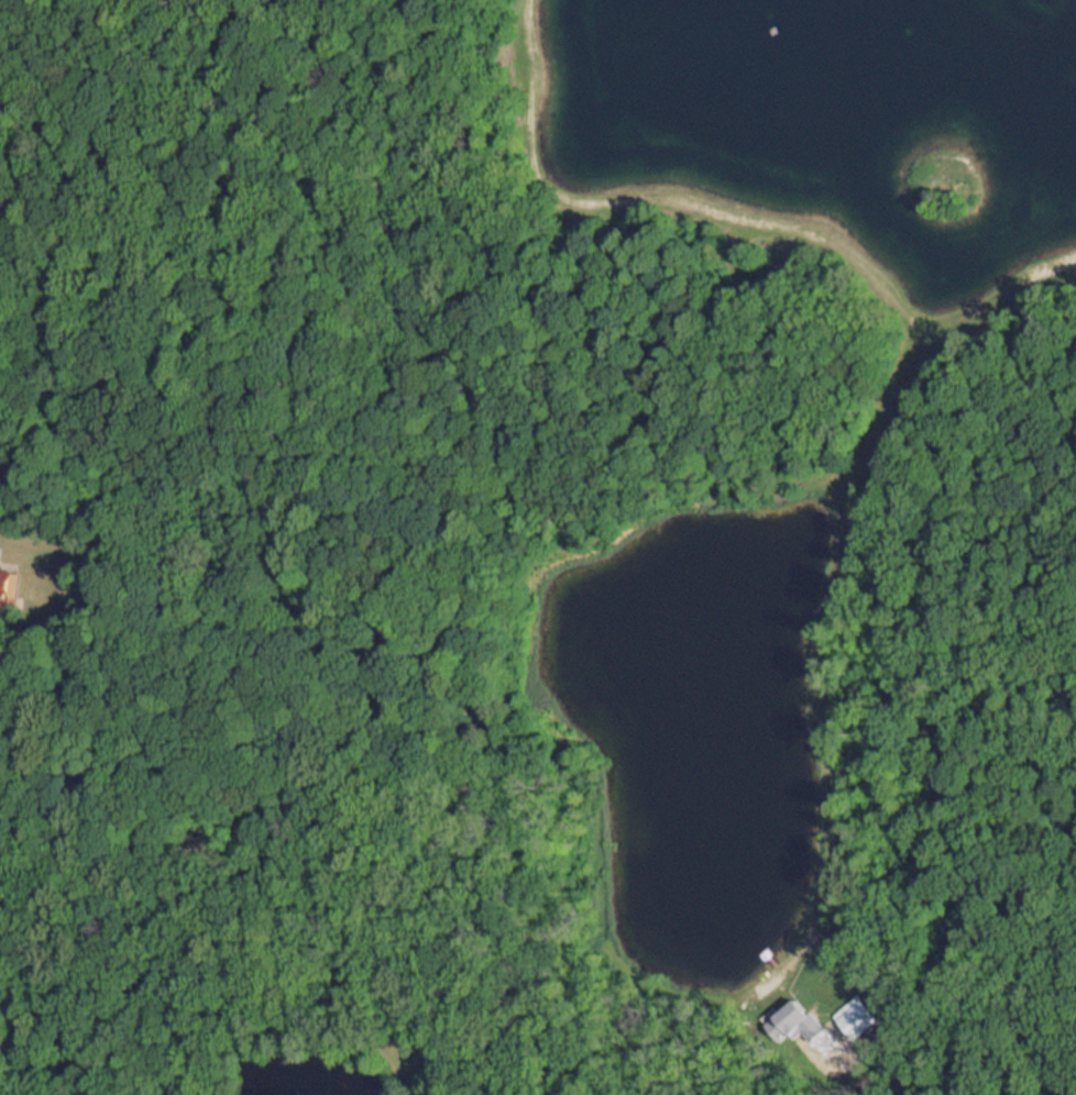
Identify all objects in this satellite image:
building: (6, 576)
road: (849, 1092)

